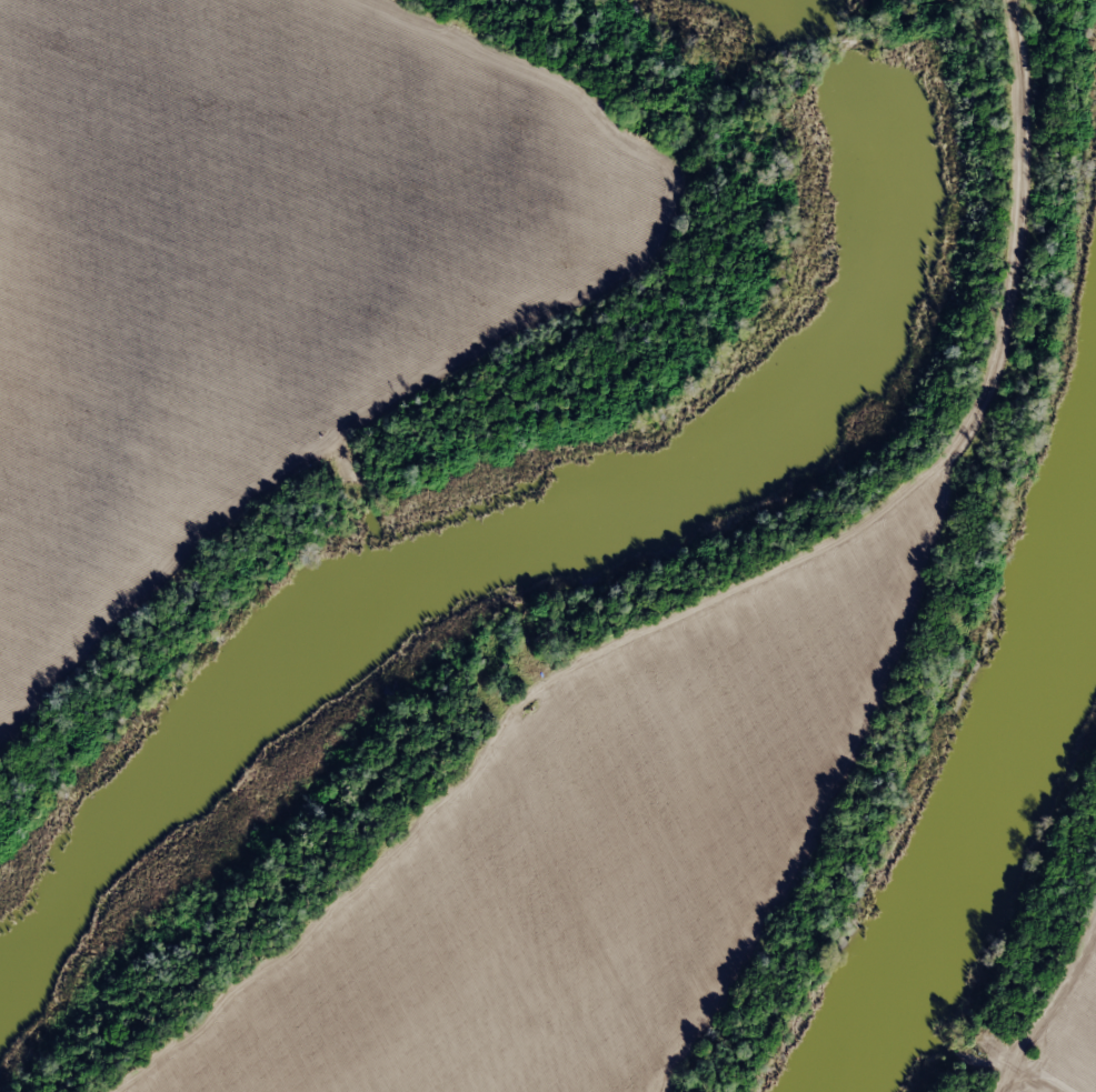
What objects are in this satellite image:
road: (982, 8)
river: (779, 21)
road: (1022, 248)
river: (550, 523)
river: (22, 906)
river: (22, 950)
road: (1043, 1005)
river: (861, 1046)

